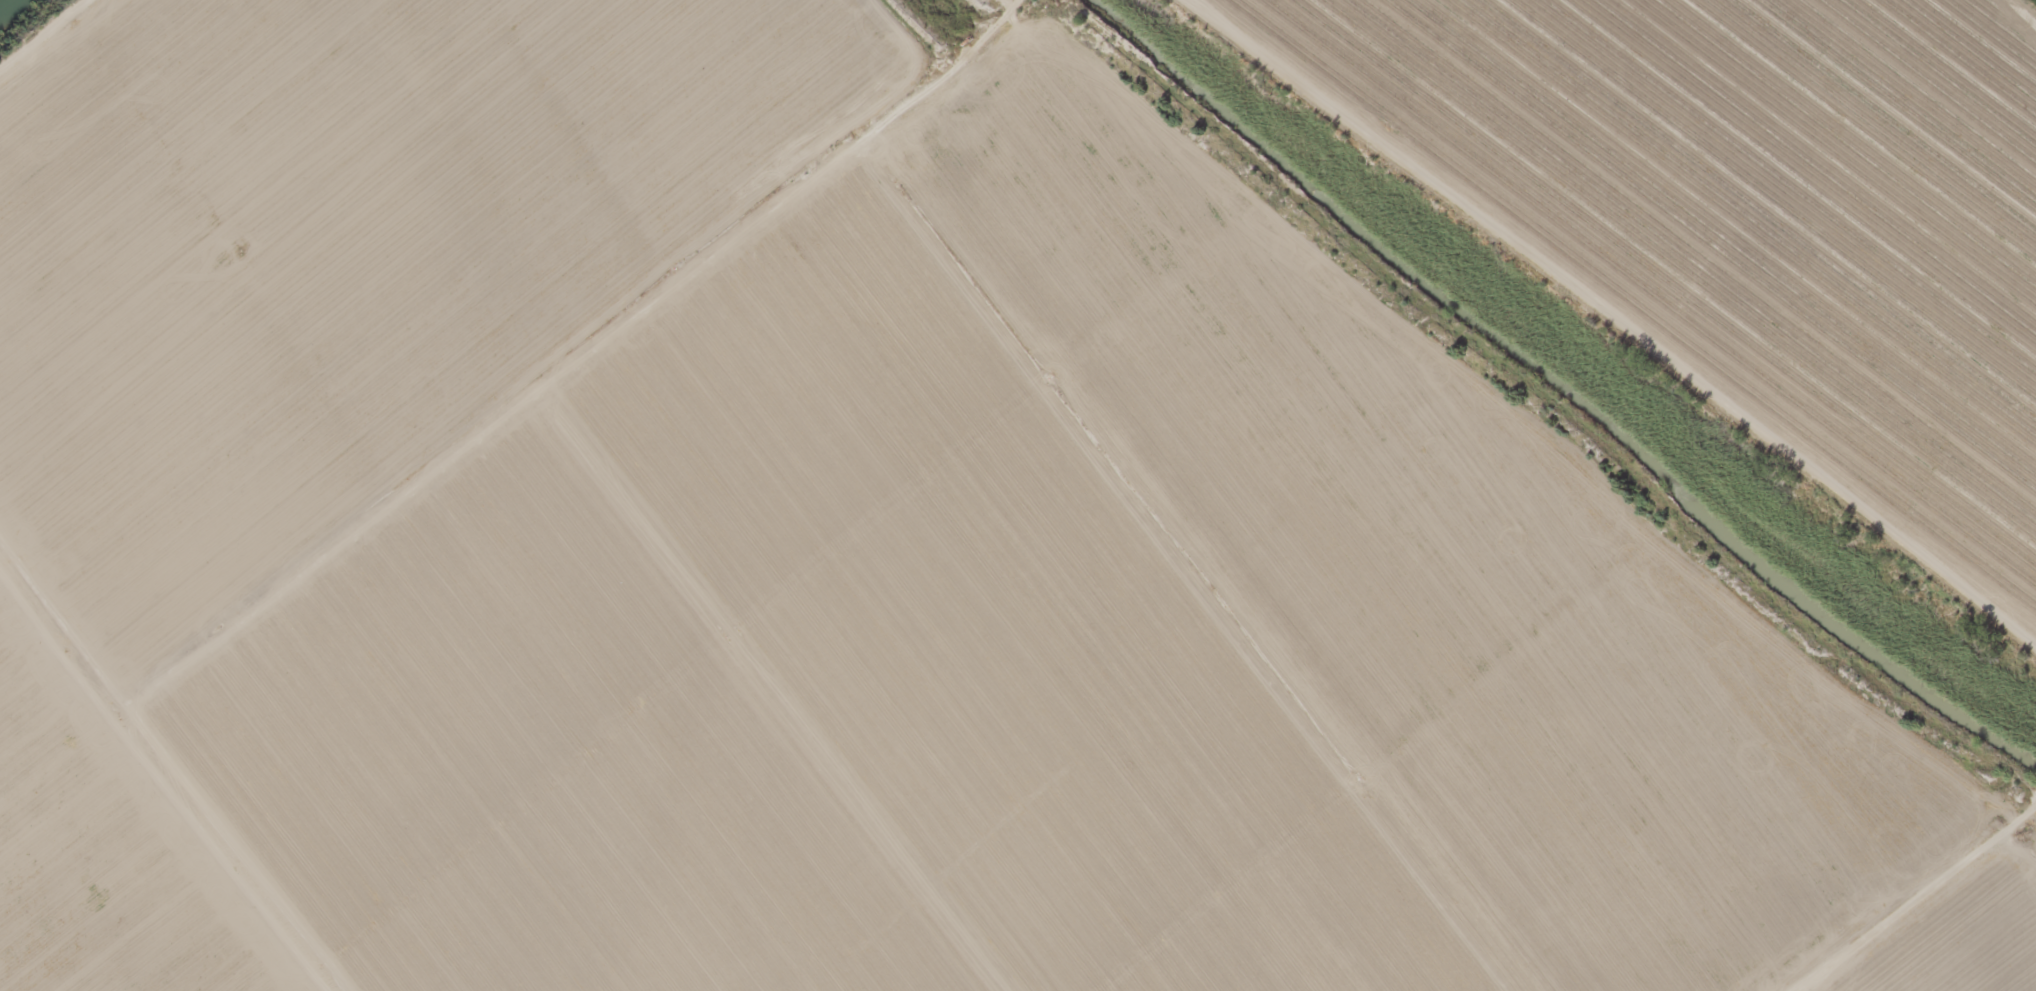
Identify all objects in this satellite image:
road: (47, 34)
road: (1608, 321)
road: (1917, 899)

